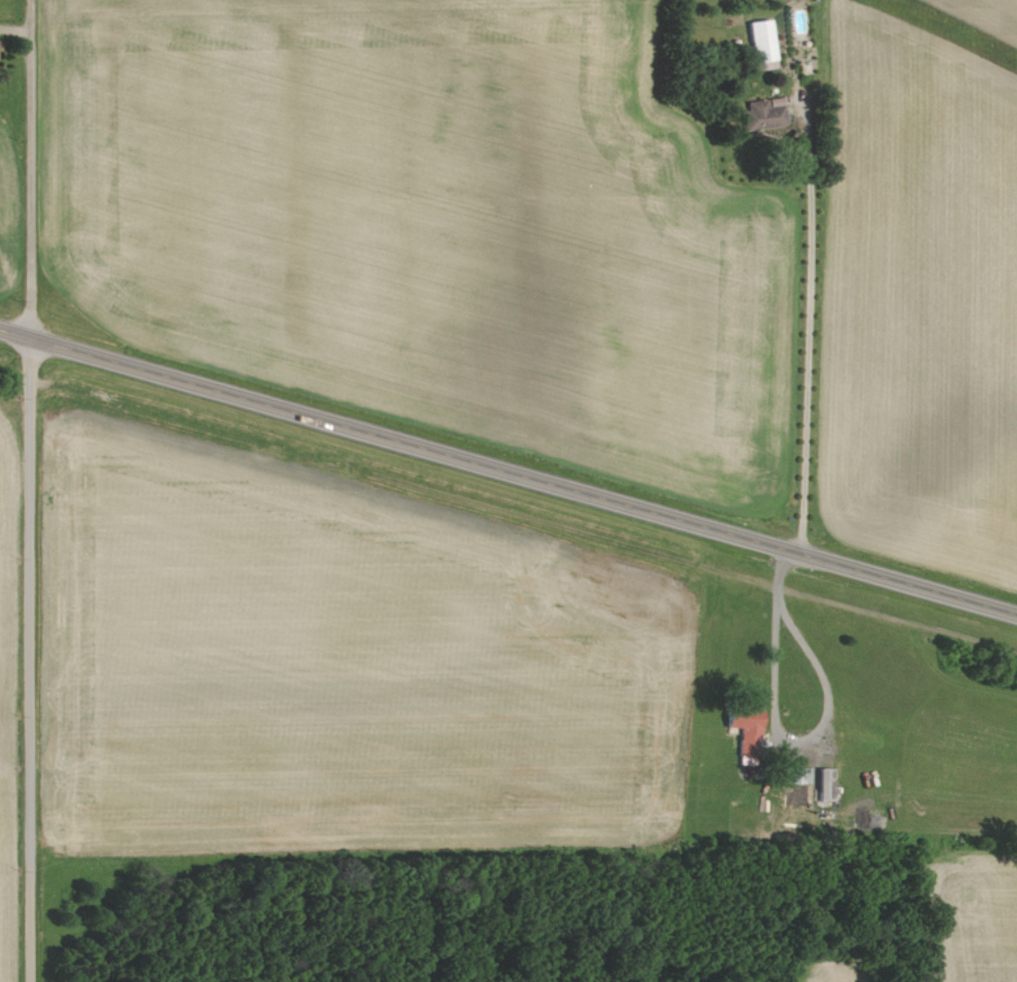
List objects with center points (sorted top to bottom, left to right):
building: (763, 46)
road: (29, 169)
road: (807, 324)
road: (508, 472)
road: (28, 660)
building: (754, 725)
road: (781, 738)

